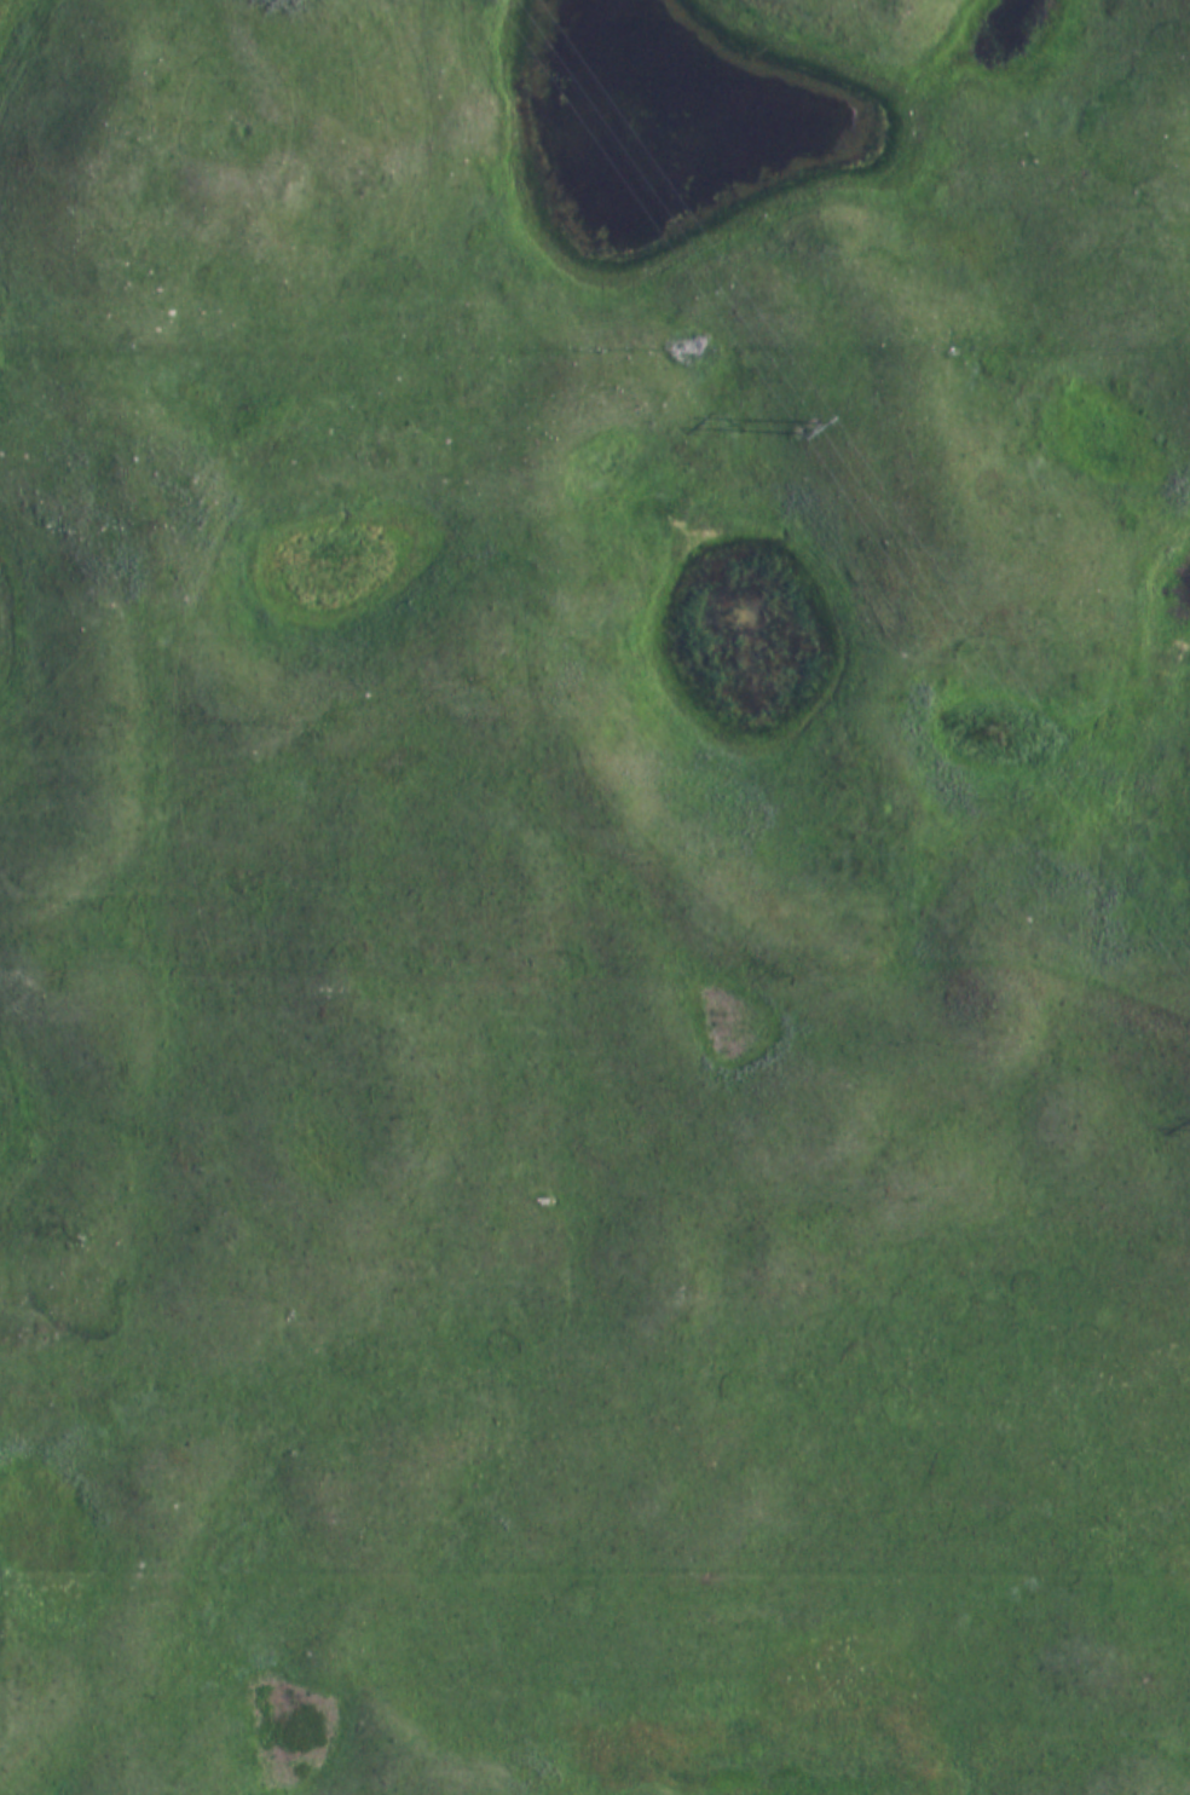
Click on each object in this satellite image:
power tower: (804, 426)

